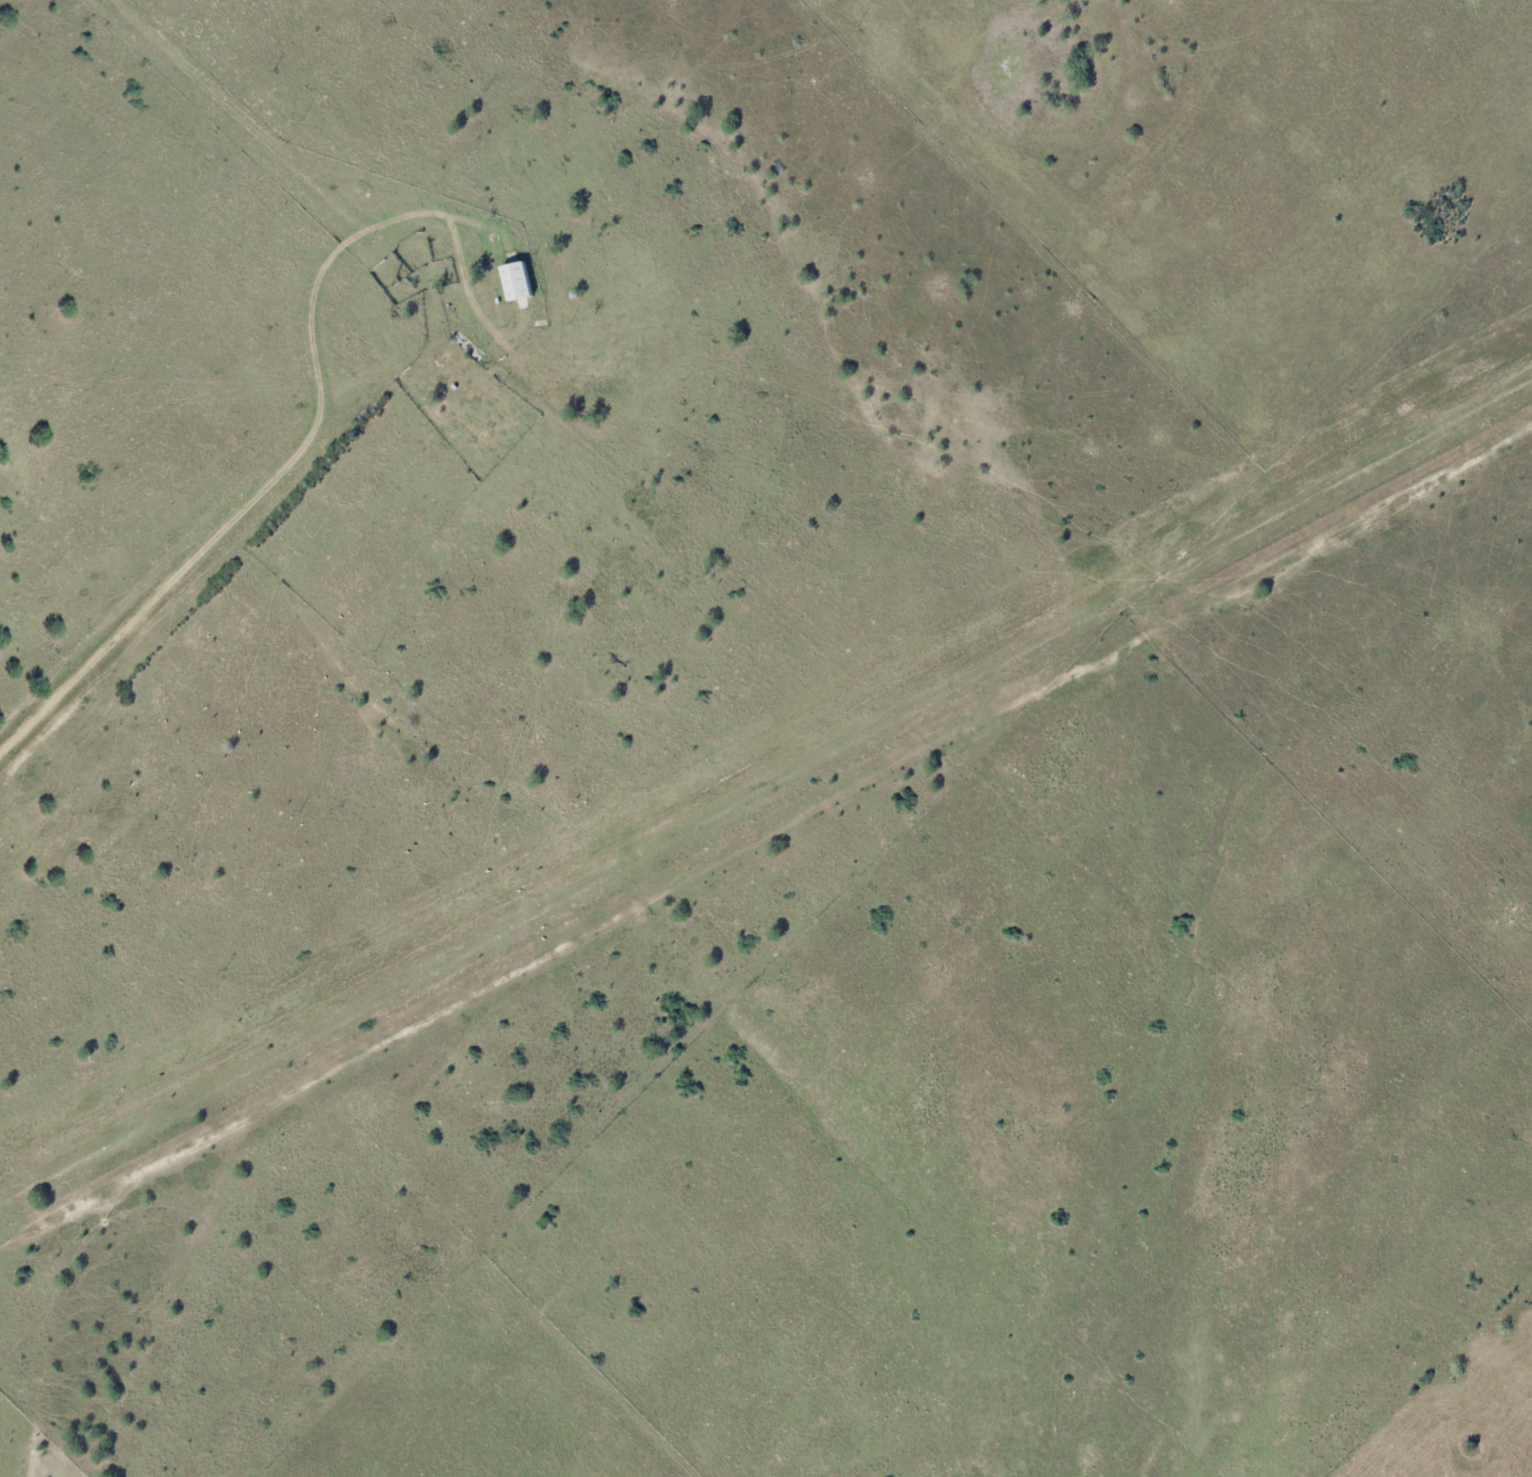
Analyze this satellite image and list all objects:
road: (244, 136)
building: (520, 282)

